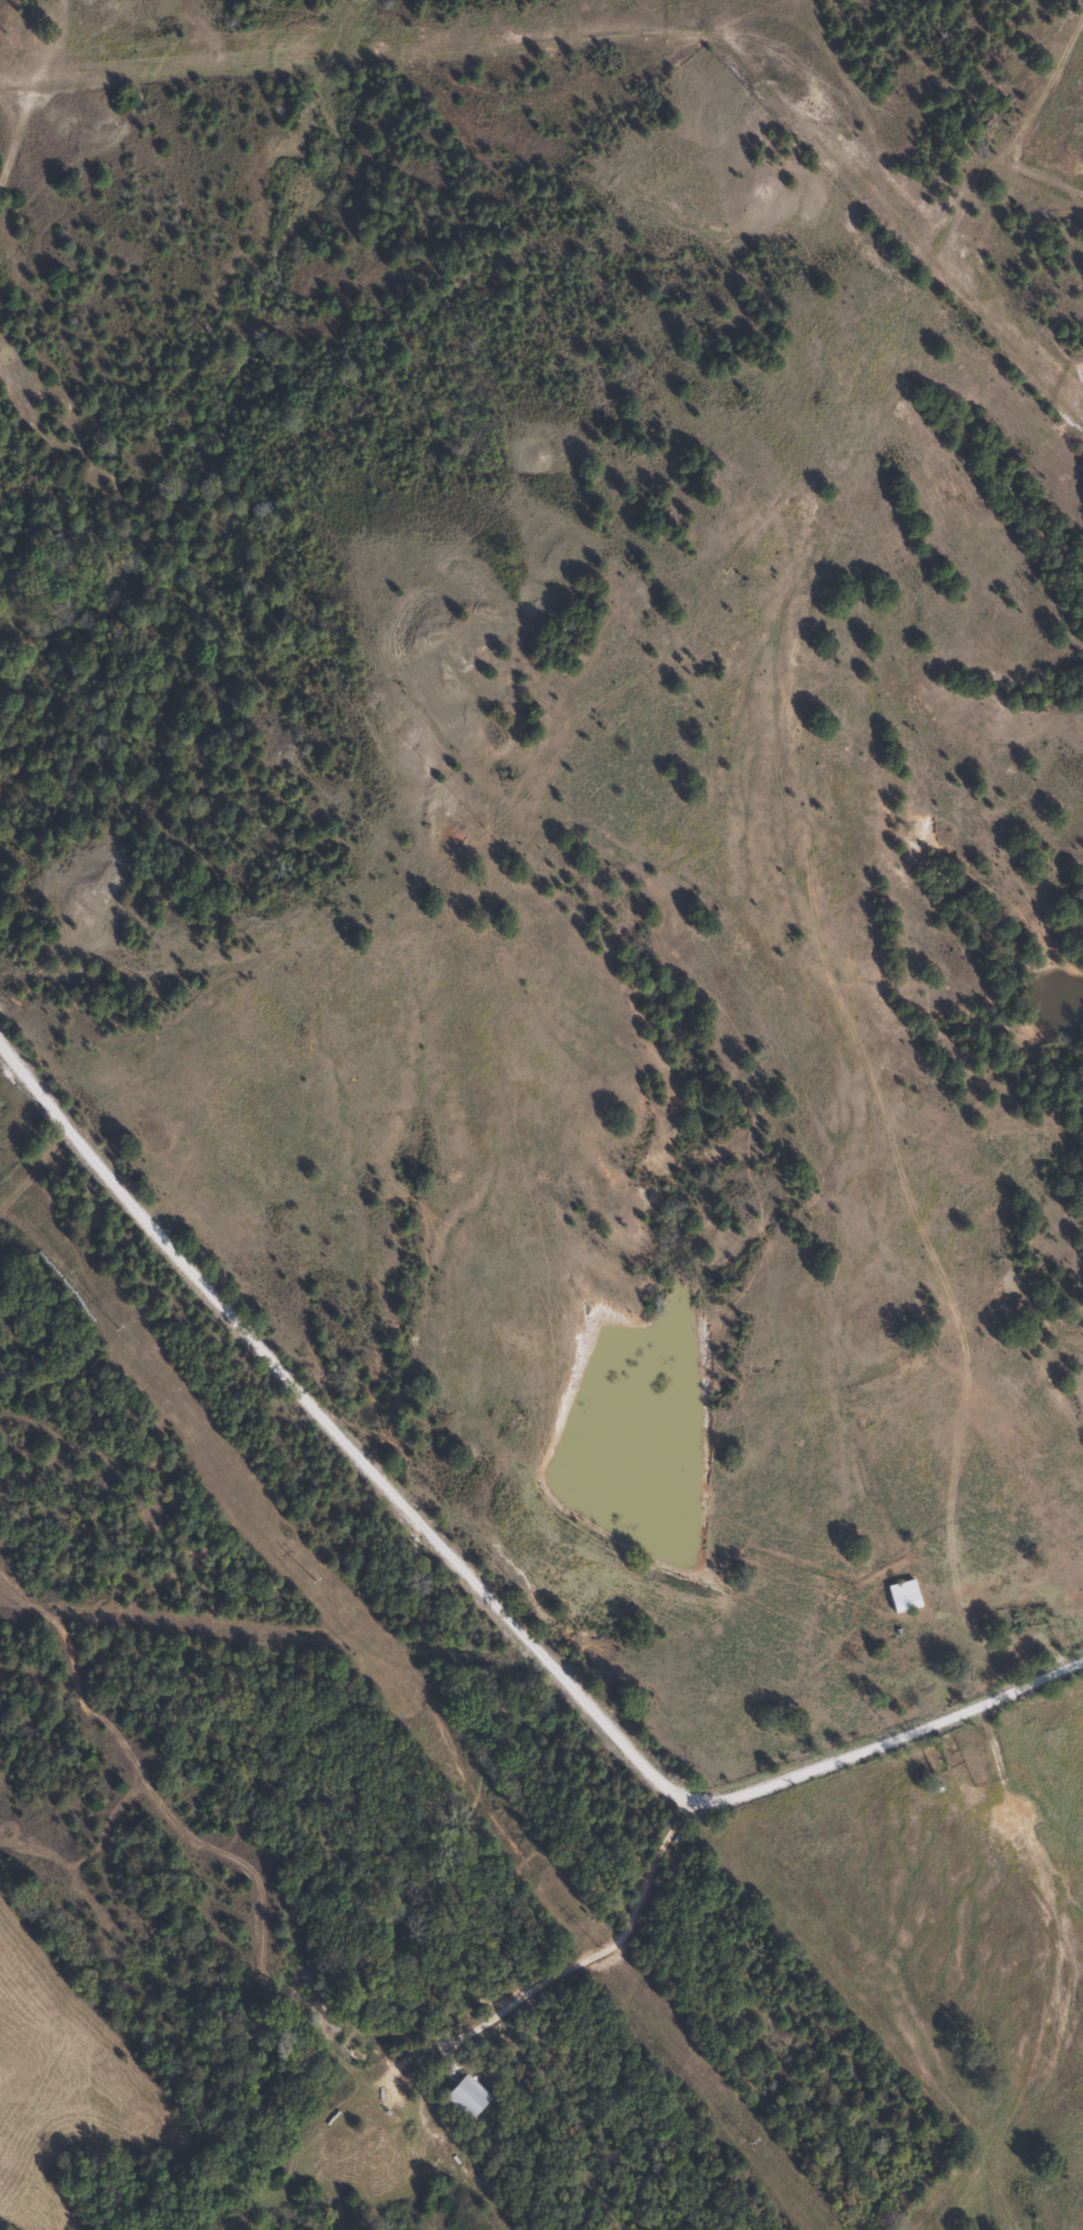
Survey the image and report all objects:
road: (485, 1586)
building: (904, 1595)
building: (469, 2097)

